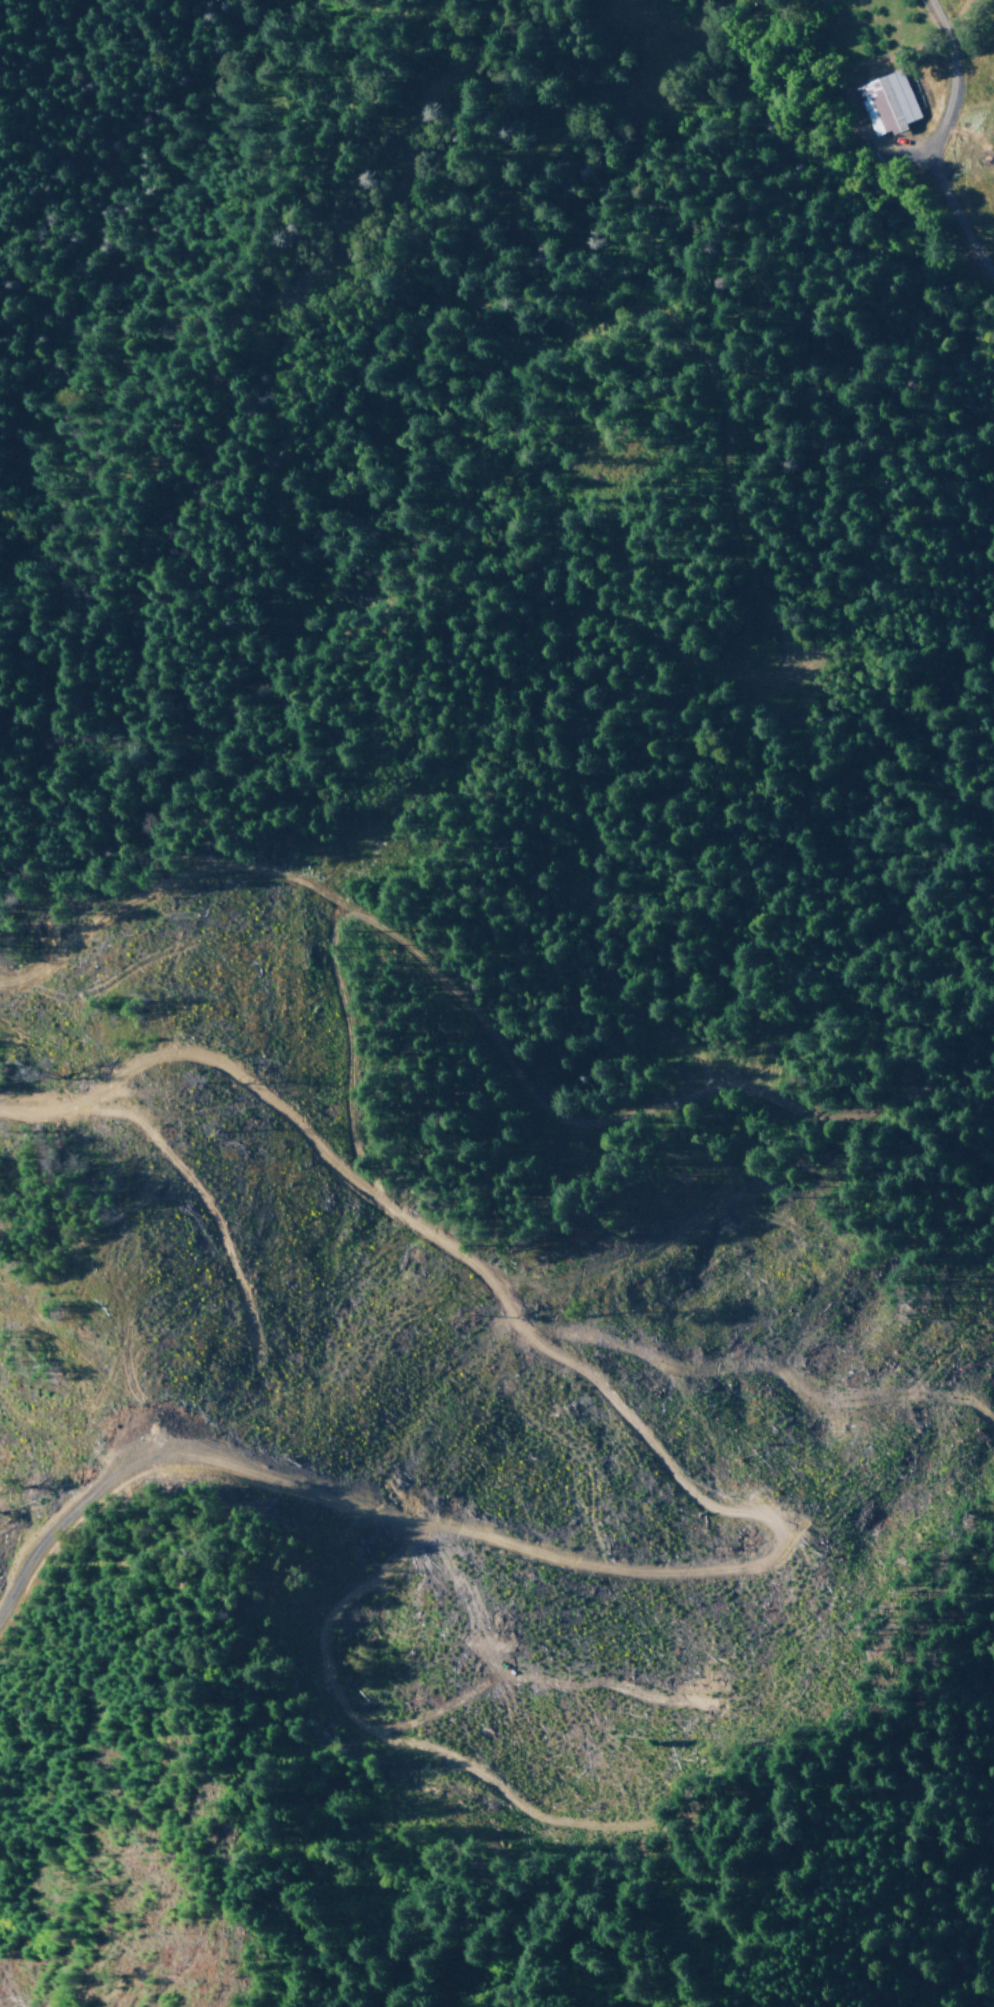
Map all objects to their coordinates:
building: (887, 103)

